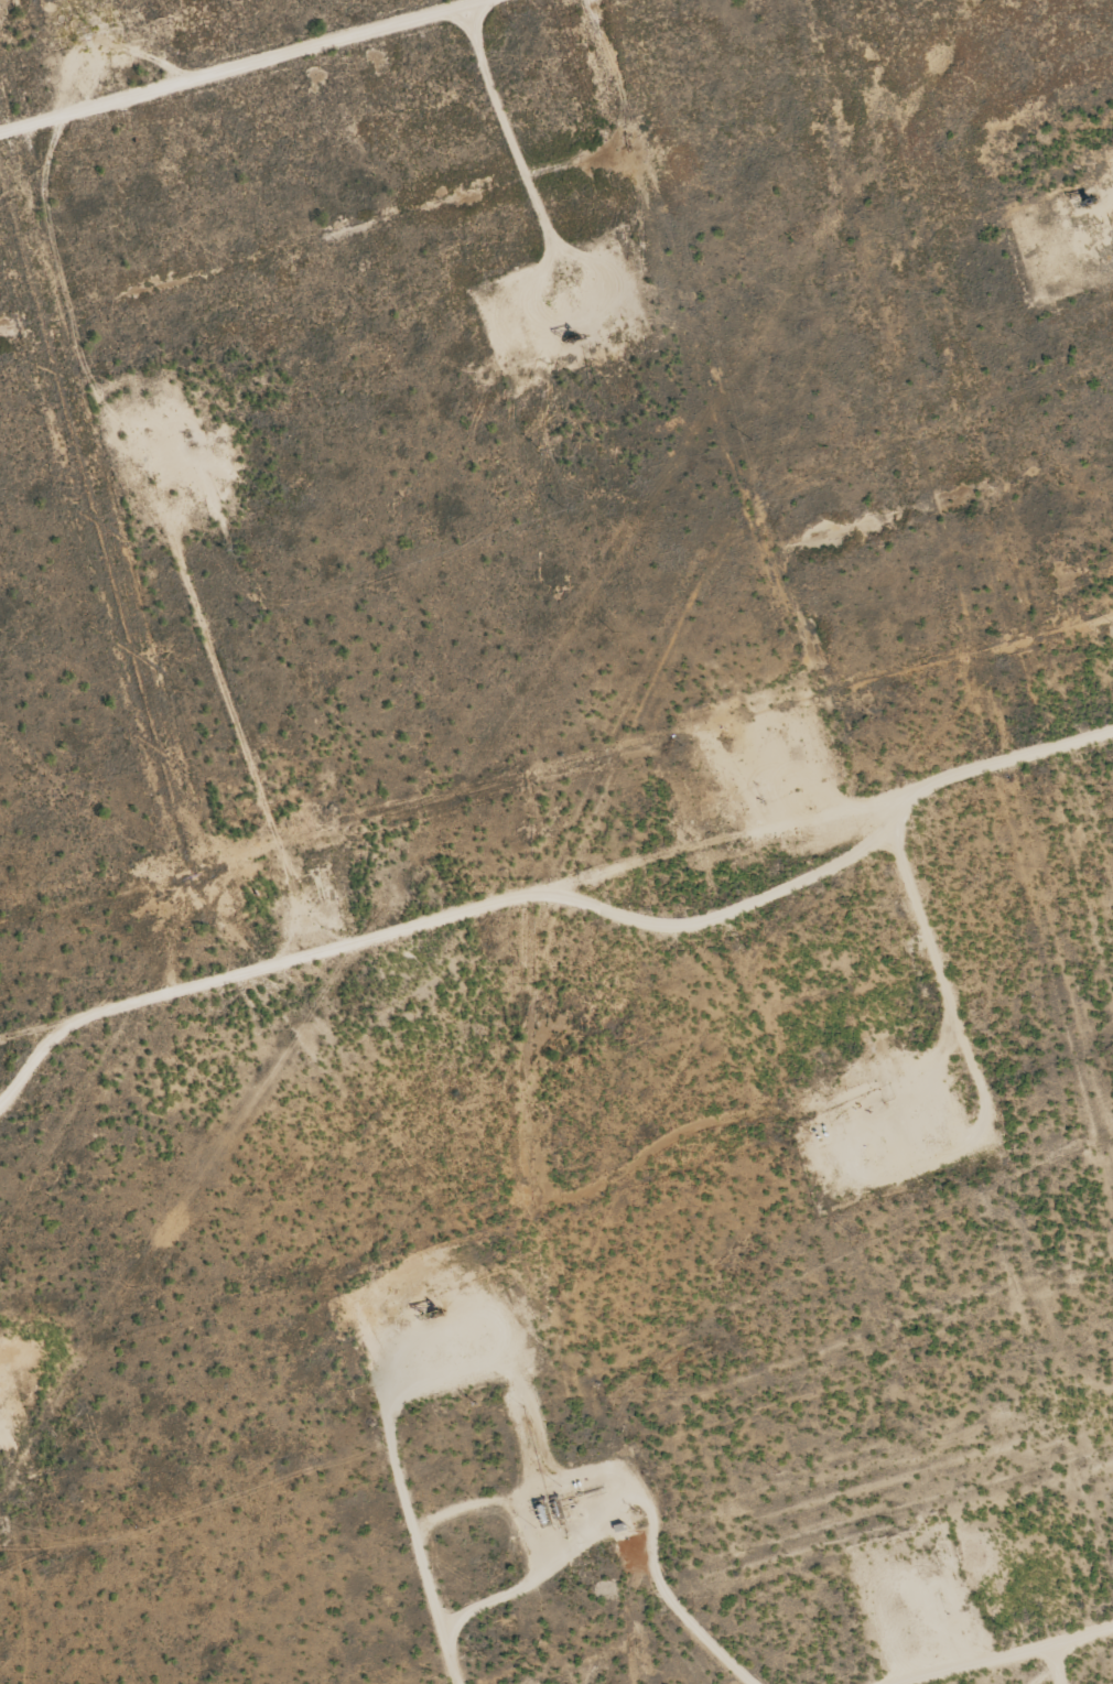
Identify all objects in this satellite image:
road: (230, 64)
petroleum well: (1087, 199)
road: (556, 883)
road: (1009, 1654)

